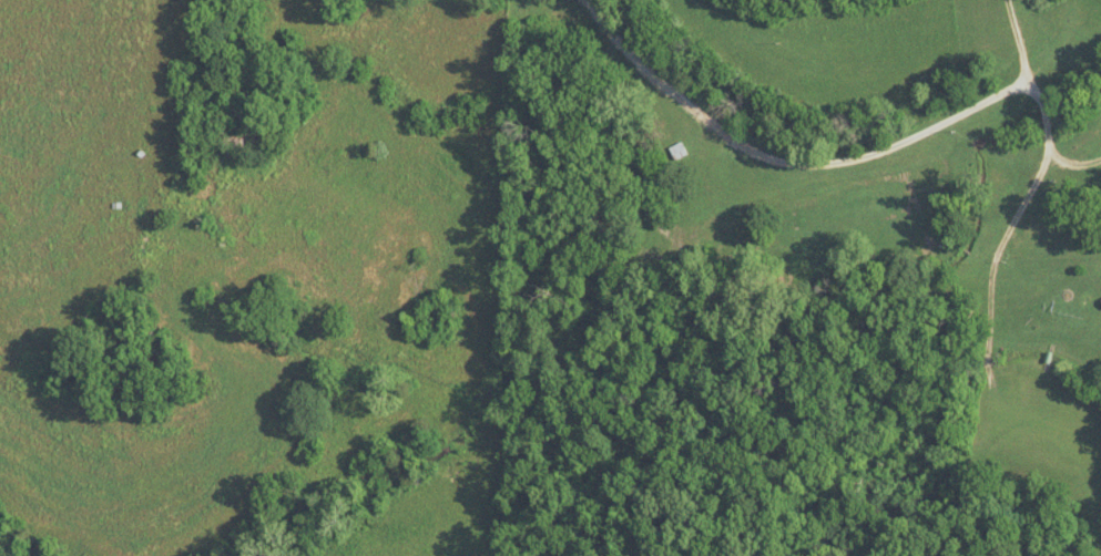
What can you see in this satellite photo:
building: (677, 150)
road: (1073, 167)
road: (779, 168)
road: (1020, 213)

